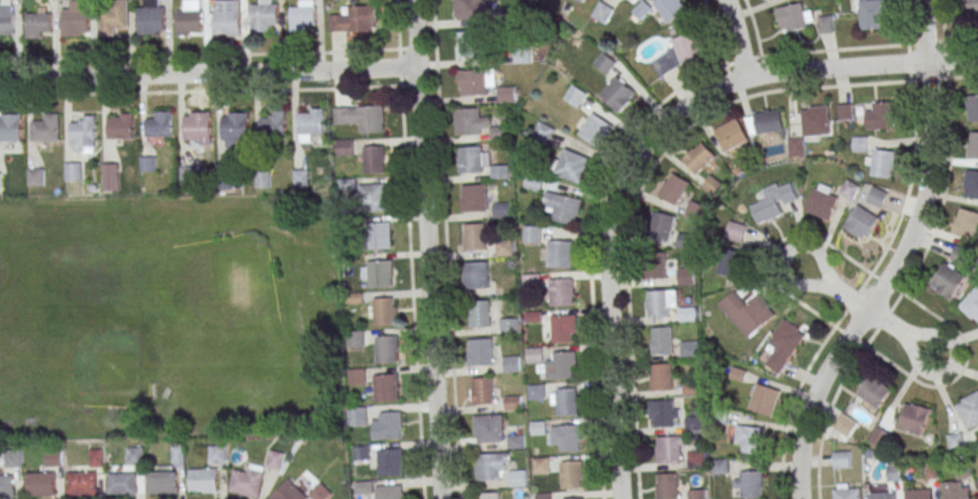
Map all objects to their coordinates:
building: (580, 0)
building: (636, 0)
building: (671, 8)
building: (479, 9)
building: (969, 9)
building: (603, 12)
building: (873, 14)
building: (264, 16)
building: (227, 17)
building: (794, 17)
building: (190, 18)
building: (301, 18)
building: (6, 19)
building: (76, 19)
building: (113, 19)
building: (355, 19)
building: (151, 20)
building: (37, 24)
road: (396, 24)
building: (825, 24)
road: (736, 38)
building: (467, 44)
road: (850, 47)
building: (682, 52)
building: (605, 62)
road: (399, 68)
road: (208, 72)
building: (477, 81)
building: (618, 93)
building: (507, 94)
building: (575, 95)
building: (972, 107)
building: (881, 116)
building: (361, 117)
building: (312, 119)
building: (816, 120)
building: (765, 121)
building: (275, 122)
building: (160, 123)
building: (477, 123)
building: (198, 124)
building: (121, 125)
building: (235, 125)
building: (84, 126)
building: (11, 127)
building: (46, 128)
building: (595, 129)
building: (543, 132)
building: (731, 135)
building: (973, 145)
building: (796, 146)
road: (643, 147)
building: (345, 148)
building: (699, 157)
building: (375, 159)
building: (473, 159)
building: (149, 163)
building: (881, 163)
building: (571, 165)
building: (73, 170)
building: (189, 173)
building: (36, 176)
building: (111, 176)
building: (301, 177)
building: (264, 178)
building: (225, 180)
building: (0, 182)
building: (534, 182)
building: (971, 184)
building: (674, 188)
building: (877, 196)
building: (378, 197)
building: (473, 197)
building: (828, 198)
building: (774, 202)
building: (563, 207)
building: (501, 209)
building: (695, 210)
building: (861, 222)
building: (966, 223)
building: (661, 225)
building: (532, 233)
building: (382, 235)
building: (474, 236)
building: (686, 240)
building: (505, 248)
road: (426, 249)
road: (446, 249)
building: (560, 253)
road: (590, 253)
building: (960, 254)
road: (900, 260)
building: (729, 263)
building: (655, 265)
building: (380, 272)
building: (477, 274)
building: (686, 275)
building: (947, 280)
road: (835, 288)
building: (562, 291)
building: (660, 302)
building: (971, 305)
building: (380, 311)
building: (480, 313)
building: (747, 313)
building: (509, 325)
building: (562, 328)
road: (899, 331)
building: (355, 338)
building: (663, 340)
building: (784, 345)
building: (690, 348)
building: (388, 349)
building: (481, 351)
building: (512, 363)
building: (564, 365)
building: (357, 375)
building: (663, 376)
building: (386, 387)
building: (482, 390)
building: (537, 391)
building: (874, 391)
building: (765, 399)
building: (567, 401)
building: (514, 402)
building: (969, 409)
building: (664, 413)
building: (361, 415)
building: (914, 418)
building: (694, 420)
building: (388, 424)
building: (844, 426)
building: (538, 427)
building: (489, 428)
building: (570, 437)
building: (879, 437)
building: (748, 438)
building: (516, 441)
building: (956, 441)
building: (668, 449)
building: (361, 452)
building: (177, 453)
building: (216, 453)
building: (134, 455)
building: (10, 457)
building: (53, 457)
building: (95, 457)
building: (841, 459)
building: (391, 461)
building: (541, 465)
building: (499, 469)
building: (894, 472)
building: (571, 474)
building: (203, 480)
building: (161, 481)
building: (248, 481)
building: (977, 481)
building: (40, 483)
building: (81, 483)
building: (121, 483)
building: (748, 484)
building: (7, 485)
building: (668, 486)
building: (363, 488)
building: (957, 491)
building: (288, 492)
building: (322, 492)
building: (390, 492)
building: (847, 492)
building: (919, 494)
building: (489, 495)
building: (883, 495)
building: (571, 498)

